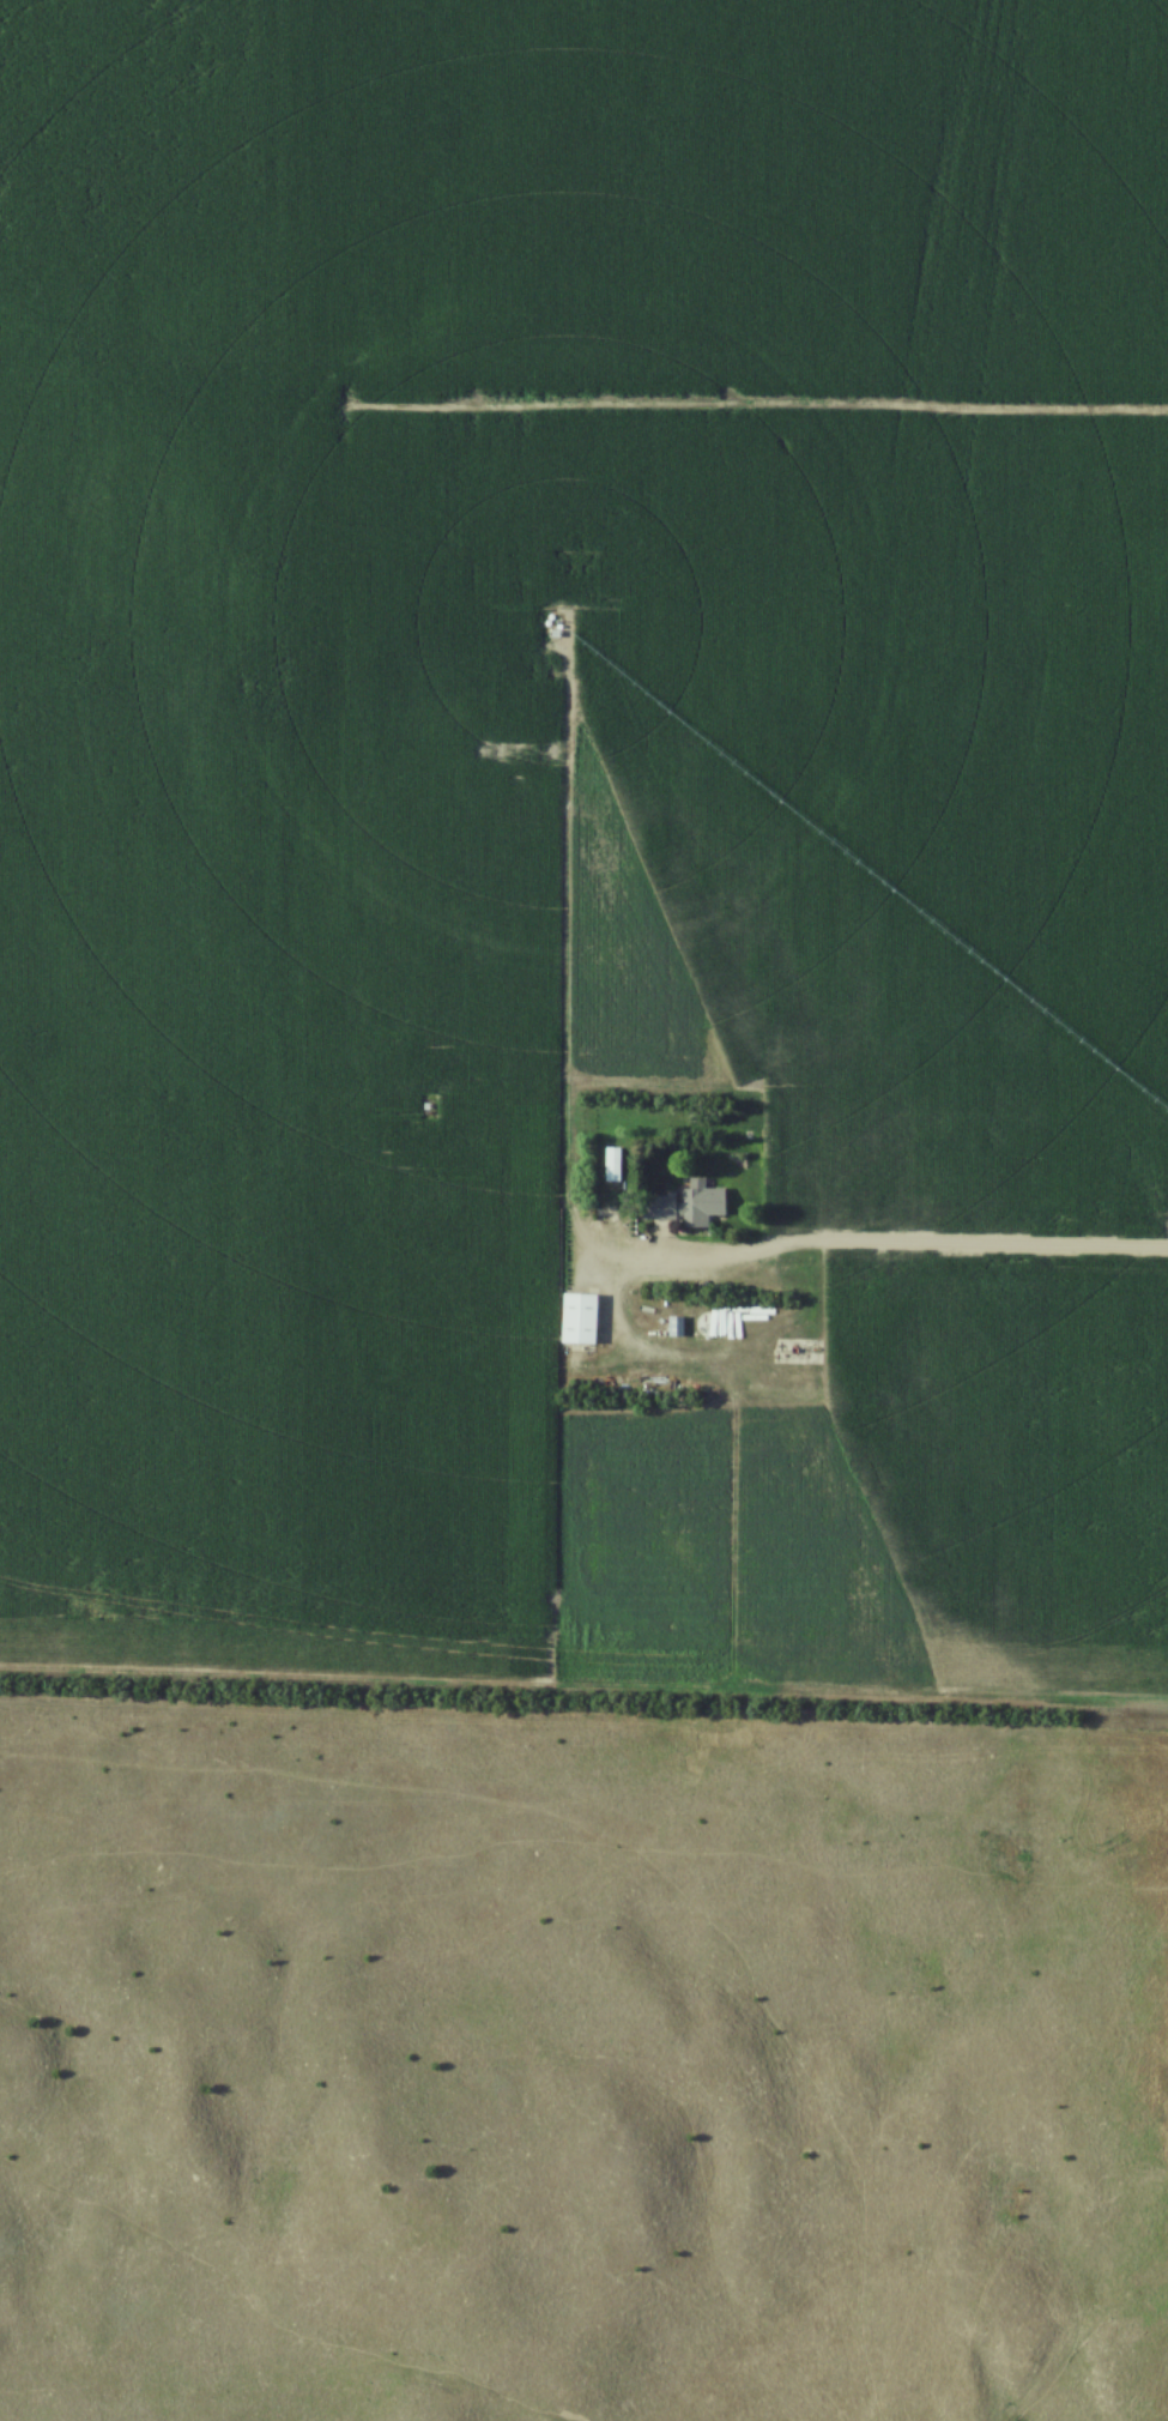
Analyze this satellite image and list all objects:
building: (437, 1207)
building: (686, 1207)
road: (914, 1244)
building: (495, 1275)
building: (532, 1294)
building: (580, 1320)
building: (710, 1327)

